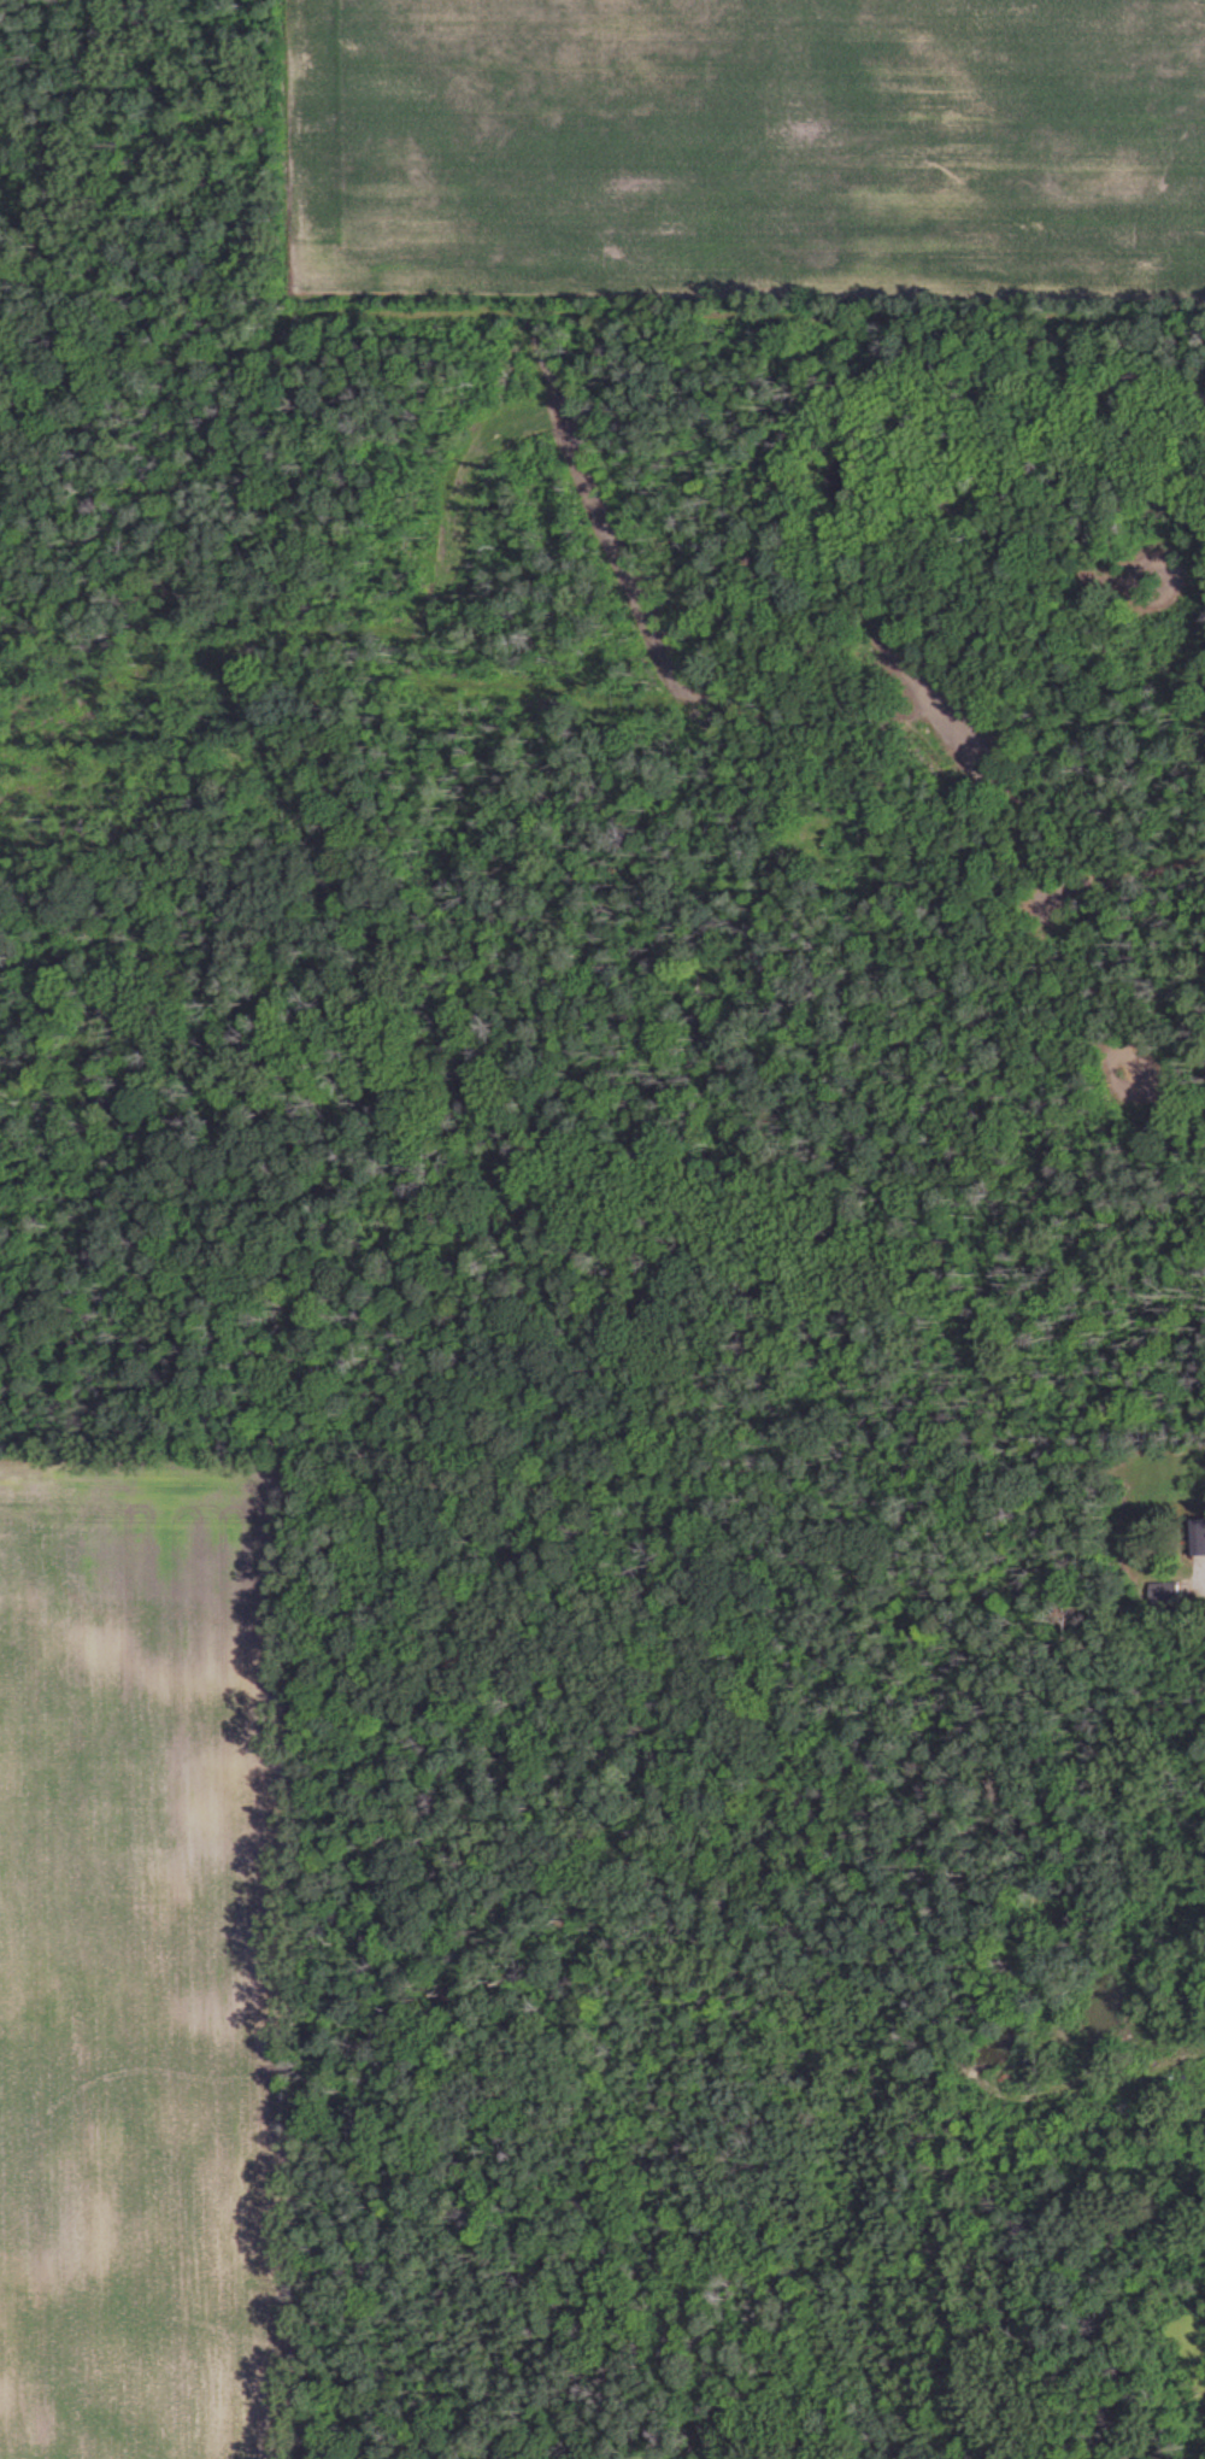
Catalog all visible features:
building: (1191, 1550)

